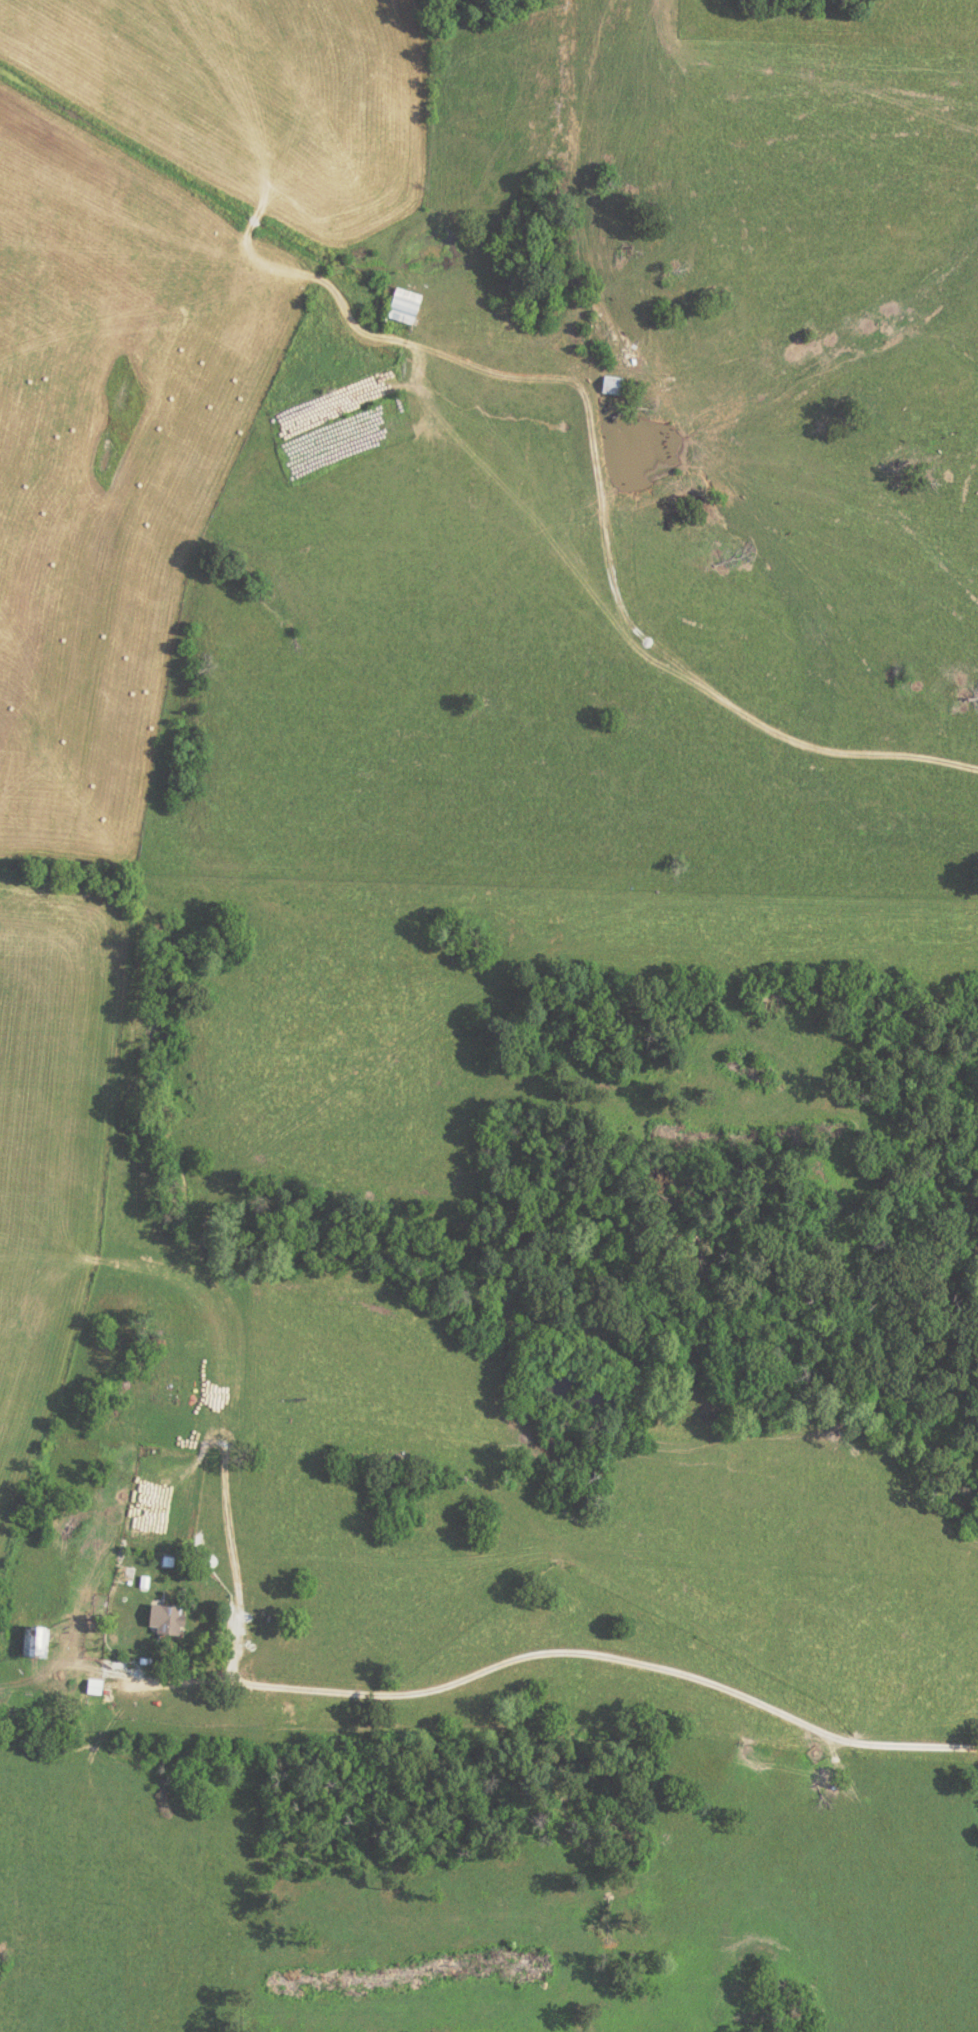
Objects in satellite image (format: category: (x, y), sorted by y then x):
road: (570, 186)
building: (404, 306)
building: (610, 385)
road: (620, 589)
building: (167, 1621)
building: (34, 1643)
road: (553, 1652)
building: (92, 1686)

